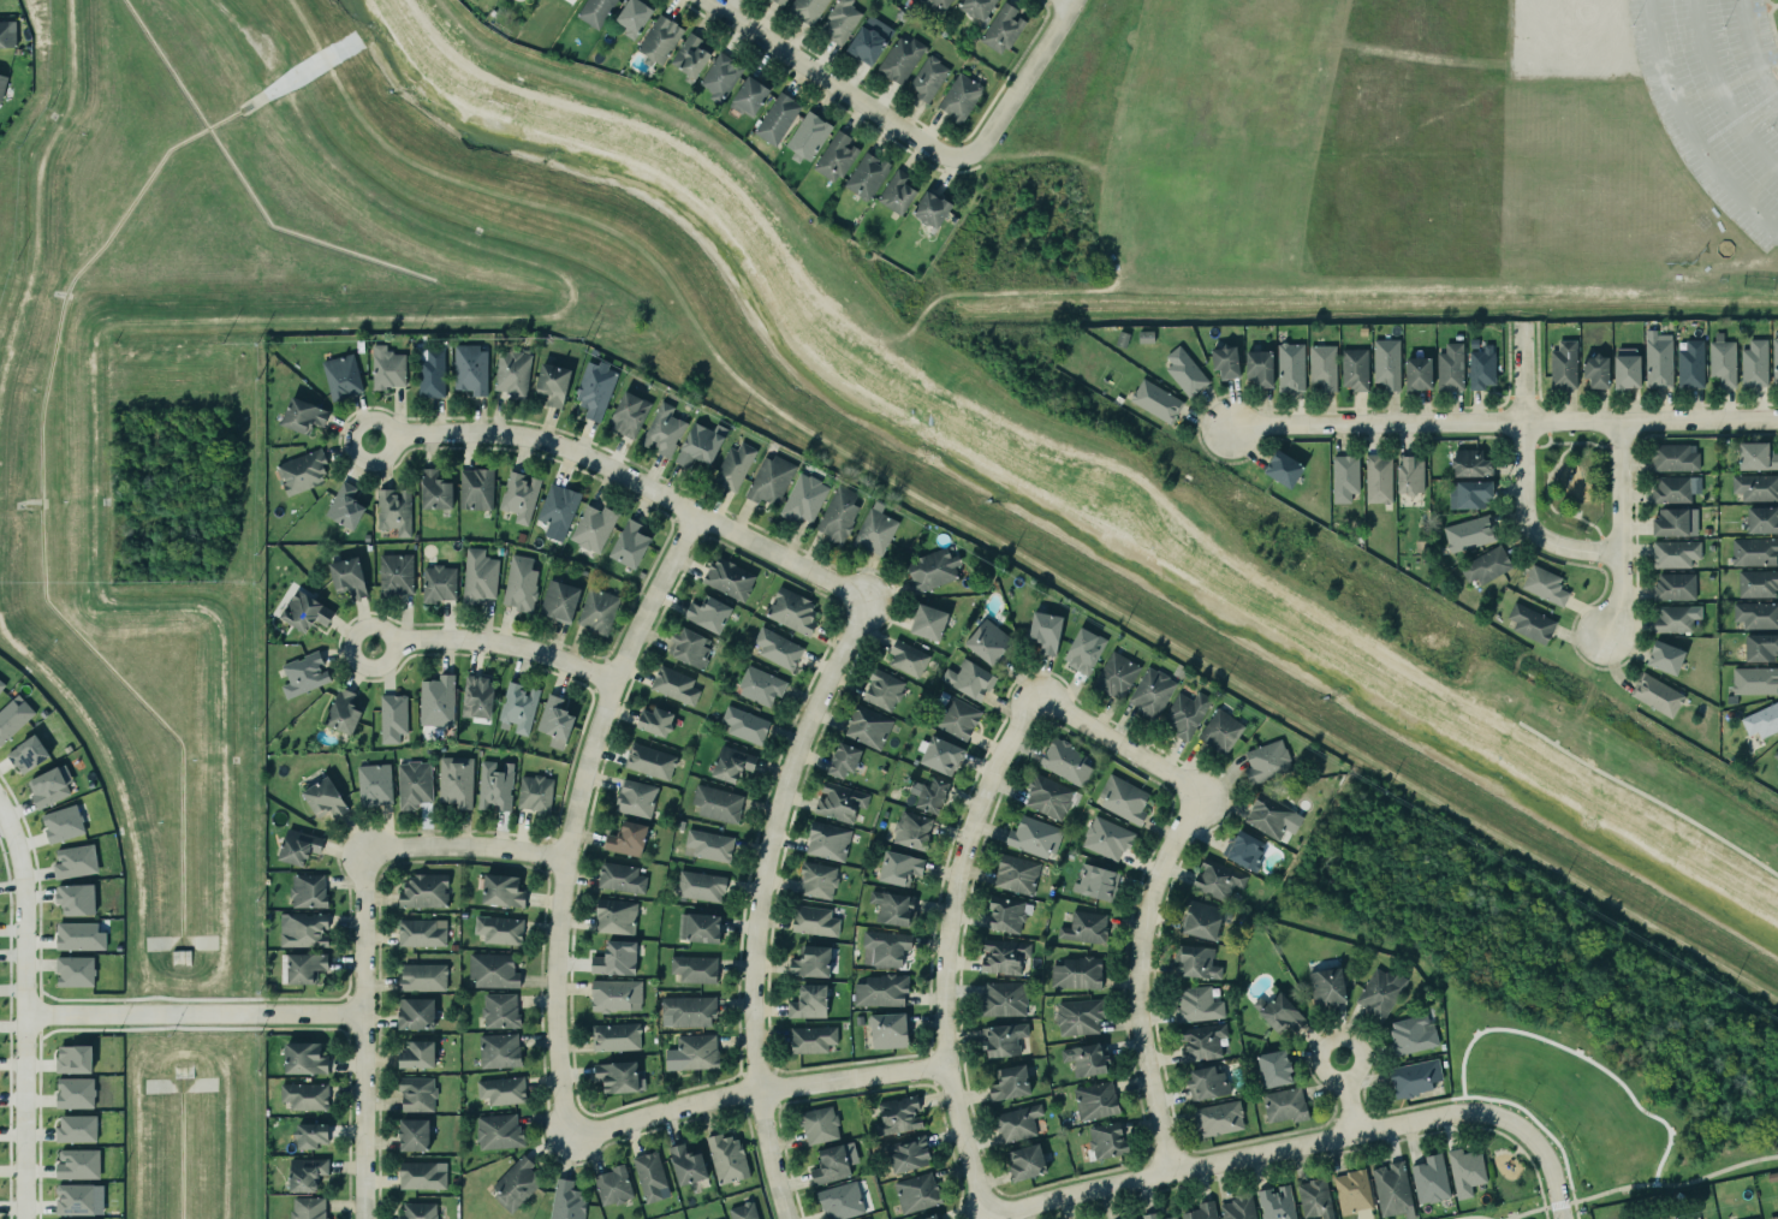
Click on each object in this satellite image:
road: (1068, 0)
building: (775, 1)
building: (936, 2)
building: (975, 7)
building: (807, 11)
building: (593, 12)
building: (631, 17)
building: (840, 20)
building: (1001, 29)
building: (6, 36)
building: (659, 38)
road: (1621, 38)
building: (869, 40)
road: (1572, 40)
road: (1527, 41)
road: (1753, 52)
building: (690, 57)
building: (899, 57)
building: (720, 77)
building: (928, 78)
road: (1018, 82)
road: (831, 83)
building: (2, 84)
road: (1720, 93)
building: (748, 96)
building: (959, 97)
road: (1777, 97)
building: (775, 118)
road: (1688, 131)
building: (807, 136)
building: (834, 156)
building: (867, 176)
building: (897, 192)
building: (932, 209)
building: (1144, 335)
building: (1120, 338)
building: (1657, 356)
building: (1718, 356)
building: (1224, 358)
building: (1753, 359)
building: (1259, 361)
building: (1382, 361)
building: (1477, 361)
building: (1560, 361)
building: (1685, 361)
building: (1774, 361)
building: (1447, 363)
building: (385, 365)
building: (1322, 365)
building: (1623, 365)
building: (1290, 367)
building: (1594, 367)
building: (470, 369)
building: (1354, 369)
building: (1183, 370)
building: (1416, 370)
building: (430, 373)
building: (512, 373)
building: (341, 376)
building: (553, 383)
building: (595, 388)
building: (1154, 399)
building: (628, 412)
building: (301, 414)
road: (1500, 423)
building: (664, 430)
building: (698, 442)
road: (1582, 442)
road: (1544, 446)
building: (1754, 450)
building: (1673, 457)
building: (1469, 460)
building: (1278, 462)
building: (732, 464)
building: (1407, 470)
building: (303, 471)
road: (1521, 474)
building: (1375, 475)
road: (626, 477)
building: (1343, 477)
building: (769, 480)
park: (1570, 482)
building: (1755, 484)
building: (474, 487)
building: (433, 488)
building: (1670, 488)
building: (1468, 492)
building: (517, 495)
building: (804, 498)
building: (555, 505)
building: (345, 506)
building: (394, 511)
road: (1553, 511)
building: (837, 512)
building: (1760, 516)
building: (1675, 522)
building: (593, 528)
building: (875, 529)
road: (1617, 531)
building: (1469, 534)
building: (628, 542)
building: (1420, 546)
building: (1750, 549)
building: (1673, 551)
building: (1485, 560)
building: (929, 570)
building: (393, 572)
building: (476, 575)
building: (347, 576)
building: (730, 578)
building: (518, 582)
building: (439, 583)
building: (1544, 583)
building: (1758, 583)
building: (1675, 587)
building: (557, 599)
building: (596, 608)
building: (792, 611)
building: (305, 612)
building: (707, 612)
building: (1756, 614)
building: (1528, 617)
building: (1676, 618)
building: (929, 622)
building: (1045, 631)
building: (986, 641)
road: (495, 643)
building: (1759, 644)
building: (690, 647)
building: (774, 647)
building: (1083, 650)
building: (1665, 656)
building: (908, 659)
building: (302, 673)
building: (1116, 676)
building: (1754, 678)
building: (969, 679)
building: (1, 685)
building: (674, 685)
building: (760, 685)
building: (884, 690)
building: (1149, 691)
building: (475, 695)
building: (1658, 695)
building: (435, 700)
building: (517, 704)
building: (340, 710)
building: (1185, 713)
building: (956, 715)
building: (13, 716)
building: (392, 718)
building: (1760, 718)
building: (553, 719)
building: (655, 721)
building: (743, 723)
building: (866, 725)
building: (1219, 730)
road: (1124, 749)
building: (1774, 753)
building: (28, 754)
building: (938, 754)
building: (842, 757)
building: (648, 760)
building: (1265, 760)
building: (730, 761)
building: (1065, 761)
building: (453, 779)
building: (374, 784)
building: (414, 784)
building: (49, 785)
building: (495, 785)
building: (533, 791)
building: (930, 795)
building: (322, 796)
building: (1122, 797)
building: (636, 798)
road: (1649, 798)
building: (839, 801)
building: (715, 802)
road: (569, 815)
building: (1272, 816)
building: (63, 823)
building: (911, 831)
building: (1033, 834)
road: (772, 836)
building: (1106, 836)
building: (626, 839)
building: (828, 842)
building: (708, 843)
road: (460, 844)
building: (297, 846)
building: (1244, 850)
building: (76, 861)
building: (898, 864)
building: (1017, 874)
building: (619, 875)
building: (816, 878)
building: (1214, 879)
building: (1094, 880)
building: (700, 886)
building: (307, 890)
building: (500, 890)
building: (424, 891)
building: (75, 896)
building: (892, 908)
building: (613, 915)
building: (1007, 915)
building: (811, 918)
building: (1200, 918)
building: (1083, 926)
building: (698, 927)
building: (496, 928)
building: (303, 929)
building: (420, 932)
building: (77, 934)
building: (885, 949)
road: (945, 952)
building: (1001, 955)
building: (616, 958)
building: (811, 962)
building: (1196, 963)
building: (304, 968)
building: (73, 969)
building: (694, 969)
building: (489, 970)
building: (1077, 973)
building: (422, 977)
road: (1141, 982)
building: (1326, 985)
building: (881, 991)
building: (1380, 993)
building: (616, 995)
building: (1003, 999)
building: (809, 1001)
building: (1197, 1005)
building: (688, 1009)
road: (24, 1010)
building: (500, 1010)
building: (412, 1011)
building: (1278, 1012)
road: (194, 1015)
building: (1078, 1017)
building: (888, 1030)
building: (1411, 1033)
road: (364, 1034)
building: (616, 1036)
building: (813, 1039)
building: (1003, 1039)
building: (1201, 1042)
building: (695, 1049)
building: (499, 1051)
building: (415, 1053)
building: (302, 1056)
building: (1084, 1057)
building: (73, 1058)
building: (1272, 1066)
building: (617, 1074)
building: (1416, 1077)
building: (1205, 1082)
building: (1010, 1083)
road: (754, 1087)
building: (501, 1089)
building: (75, 1092)
building: (304, 1094)
building: (417, 1094)
road: (1350, 1094)
building: (1093, 1099)
park: (1575, 1101)
building: (1283, 1104)
building: (898, 1116)
building: (1219, 1118)
building: (1018, 1122)
building: (820, 1124)
building: (77, 1128)
building: (499, 1131)
road: (1500, 1132)
building: (310, 1135)
building: (414, 1135)
building: (1105, 1138)
road: (1515, 1149)
road: (1503, 1150)
road: (774, 1152)
building: (905, 1152)
road: (1280, 1152)
building: (725, 1156)
building: (1025, 1161)
building: (77, 1164)
building: (686, 1164)
building: (829, 1165)
building: (1463, 1170)
building: (305, 1172)
building: (648, 1173)
building: (422, 1175)
road: (1534, 1175)
building: (1429, 1179)
park: (1508, 1179)
road: (1551, 1179)
building: (516, 1183)
building: (611, 1184)
road: (1676, 1184)
building: (1392, 1190)
building: (916, 1193)
building: (1354, 1194)
road: (1570, 1194)
building: (1314, 1197)
building: (79, 1199)
building: (838, 1200)
building: (567, 1201)
road: (1570, 1201)
building: (1277, 1202)
road: (1557, 1203)
building: (1237, 1207)
building: (308, 1208)
road: (1574, 1209)
building: (418, 1211)
building: (742, 1211)
building: (1199, 1211)
road: (1524, 1211)
road: (1542, 1213)
building: (1149, 1215)
building: (934, 1217)
building: (1126, 1217)
road: (1470, 1217)
building: (861, 1218)
building: (867, 1218)
building: (1171, 1218)
building: (1756, 1218)
building: (1773, 1218)

